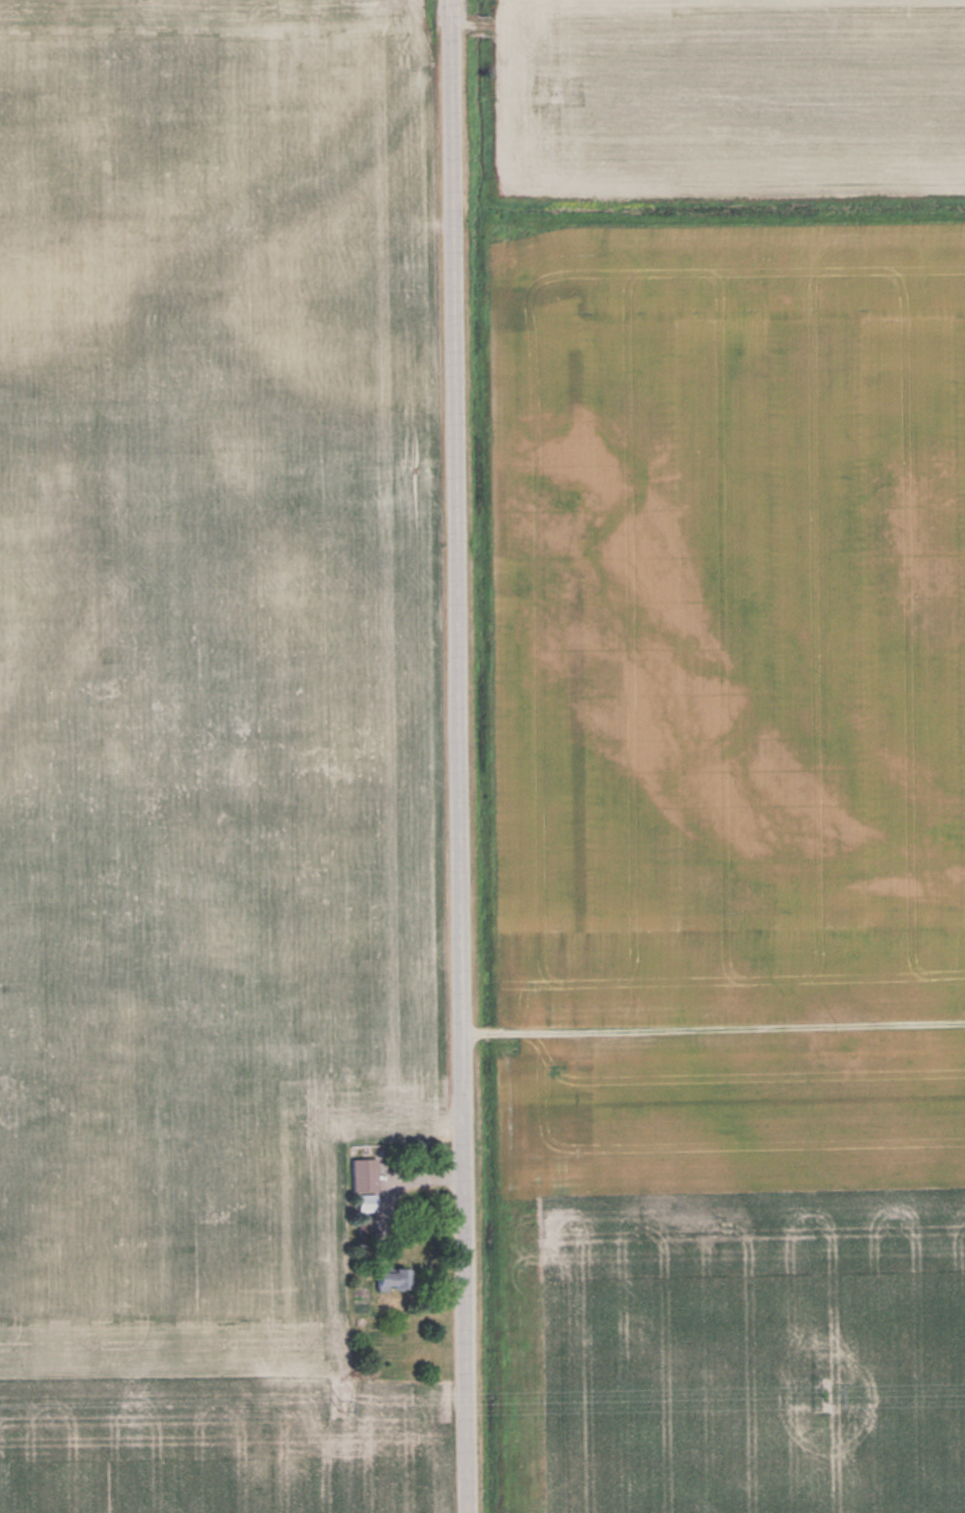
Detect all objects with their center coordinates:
road: (461, 756)
building: (364, 1174)
building: (367, 1202)
building: (392, 1278)
power tower: (826, 1398)
power tower: (346, 1404)

